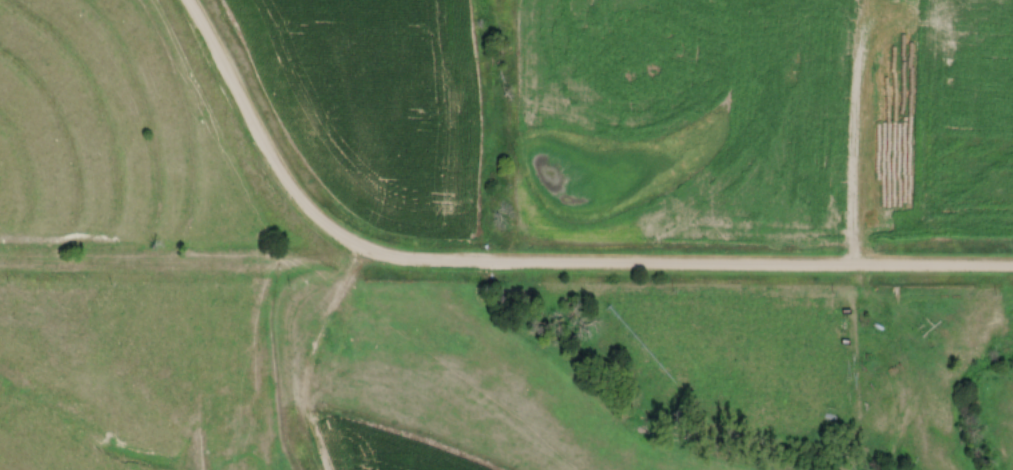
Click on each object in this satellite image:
road: (869, 129)
road: (533, 265)

